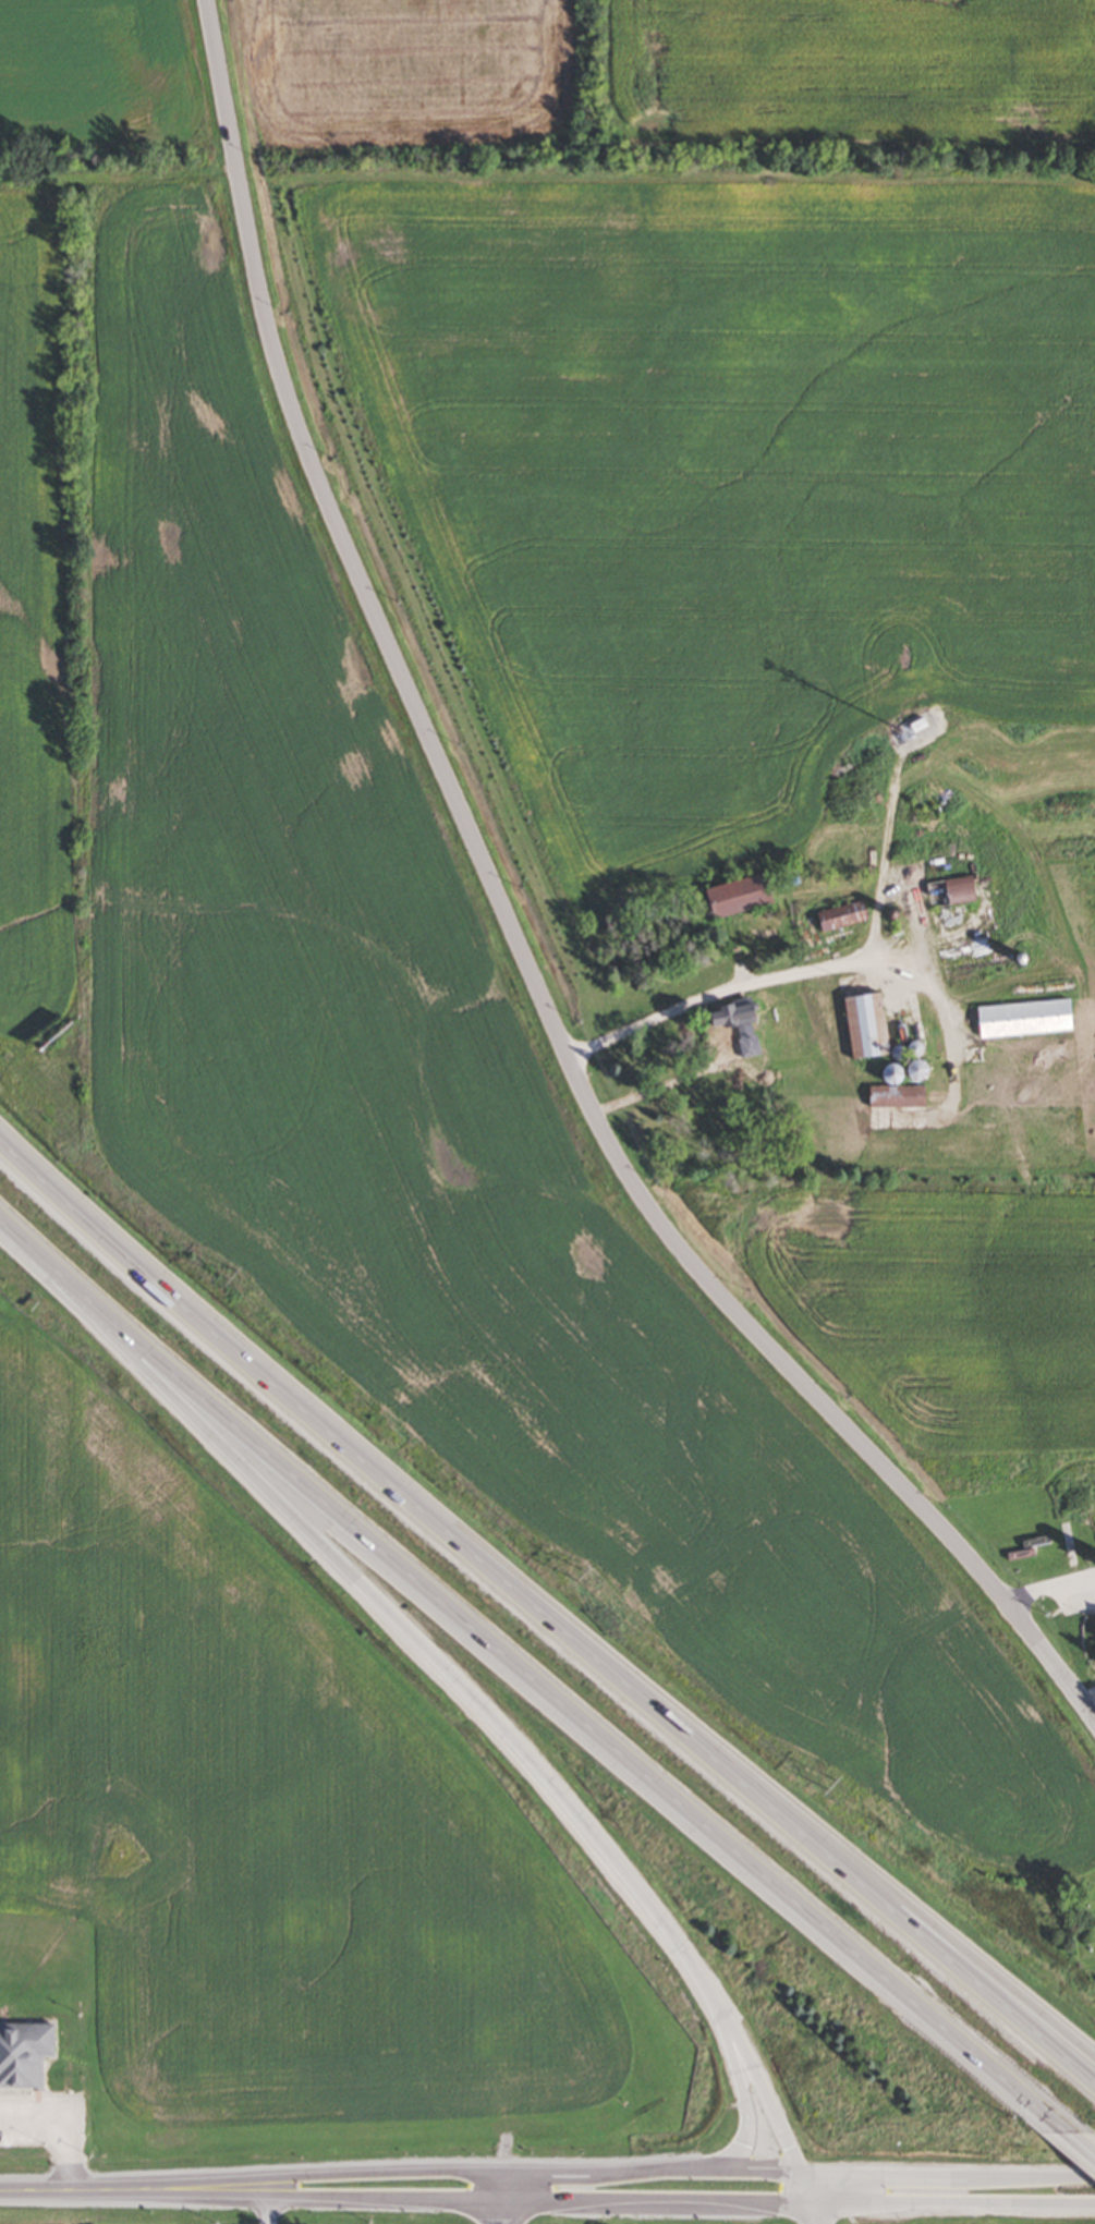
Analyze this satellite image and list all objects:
building: (921, 724)
building: (961, 889)
building: (742, 895)
building: (840, 916)
road: (513, 933)
road: (723, 989)
building: (1027, 1018)
building: (742, 1023)
building: (869, 1024)
building: (887, 1095)
power tower: (231, 1277)
building: (1036, 1544)
power tower: (581, 1575)
road: (1047, 1588)
road: (546, 1613)
road: (418, 1638)
road: (531, 1679)
road: (1091, 1705)
power tower: (834, 1791)
park: (1063, 1917)
road: (959, 1944)
building: (25, 2053)
road: (756, 2089)
road: (741, 2093)
road: (57, 2128)
road: (1081, 2142)
road: (756, 2173)
road: (944, 2174)
road: (611, 2175)
road: (302, 2179)
road: (50, 2189)
road: (802, 2190)
road: (305, 2199)
road: (508, 2200)
road: (659, 2207)
road: (952, 2209)
road: (269, 2211)
road: (814, 2216)

